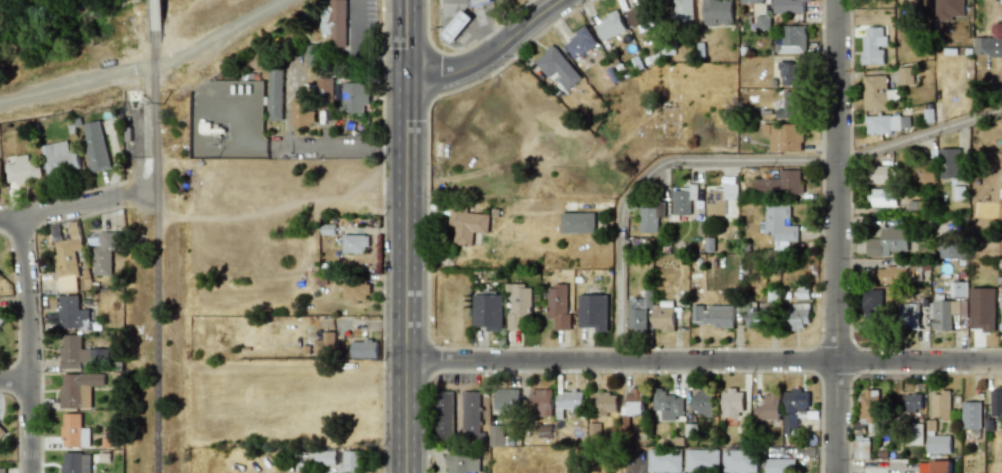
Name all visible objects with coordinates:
building: (751, 1)
building: (478, 2)
building: (789, 6)
building: (948, 9)
building: (682, 10)
building: (717, 12)
building: (640, 17)
road: (157, 21)
building: (334, 23)
building: (457, 26)
building: (609, 26)
road: (222, 33)
building: (792, 40)
building: (580, 43)
building: (872, 46)
building: (987, 47)
road: (491, 53)
building: (312, 54)
building: (553, 63)
building: (790, 73)
building: (906, 76)
road: (78, 85)
building: (875, 92)
building: (275, 93)
building: (324, 93)
building: (354, 97)
road: (285, 101)
building: (791, 105)
building: (302, 111)
building: (784, 137)
road: (340, 142)
building: (95, 146)
building: (59, 158)
road: (729, 163)
building: (949, 163)
building: (23, 170)
building: (879, 174)
building: (1001, 175)
building: (0, 176)
building: (780, 184)
building: (1001, 192)
building: (884, 197)
building: (720, 199)
building: (683, 200)
road: (63, 208)
building: (650, 218)
building: (578, 222)
building: (466, 224)
building: (779, 226)
road: (407, 236)
road: (838, 236)
building: (888, 242)
building: (355, 244)
building: (951, 249)
building: (105, 252)
building: (68, 253)
road: (157, 257)
building: (0, 273)
building: (890, 275)
building: (958, 289)
building: (356, 292)
building: (558, 306)
building: (519, 307)
building: (1001, 307)
building: (982, 308)
building: (488, 311)
building: (872, 311)
building: (593, 312)
building: (639, 312)
building: (72, 313)
building: (713, 315)
building: (798, 315)
building: (941, 315)
building: (663, 316)
building: (909, 316)
building: (754, 317)
building: (2, 321)
road: (28, 344)
building: (325, 344)
building: (364, 349)
building: (79, 353)
road: (704, 362)
road: (14, 380)
building: (78, 389)
building: (507, 400)
building: (570, 400)
building: (541, 402)
building: (635, 402)
building: (607, 403)
building: (703, 403)
building: (732, 403)
building: (914, 403)
building: (996, 404)
building: (668, 405)
building: (941, 405)
building: (869, 406)
building: (768, 408)
building: (794, 408)
building: (471, 415)
building: (972, 415)
building: (445, 416)
building: (74, 431)
building: (2, 432)
building: (915, 434)
building: (497, 435)
building: (939, 444)
building: (861, 446)
building: (322, 457)
building: (702, 460)
building: (352, 461)
building: (664, 461)
building: (739, 461)
building: (76, 462)
building: (463, 463)
road: (638, 463)
building: (780, 466)
building: (941, 466)
building: (2, 470)

